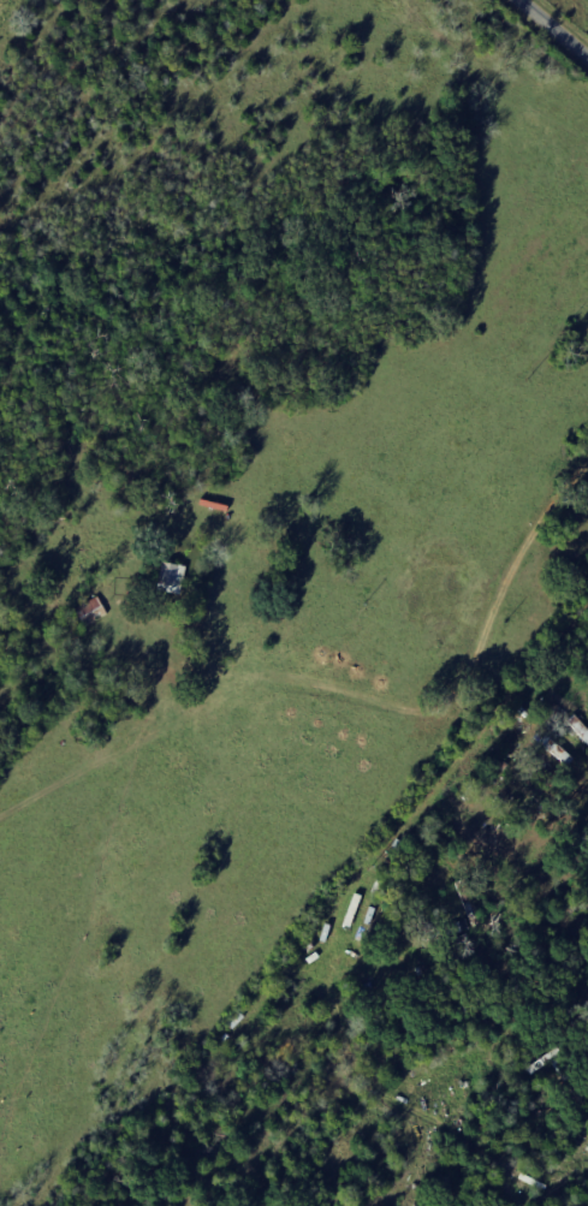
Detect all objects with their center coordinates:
road: (557, 20)
building: (173, 577)
building: (91, 612)
road: (423, 701)

